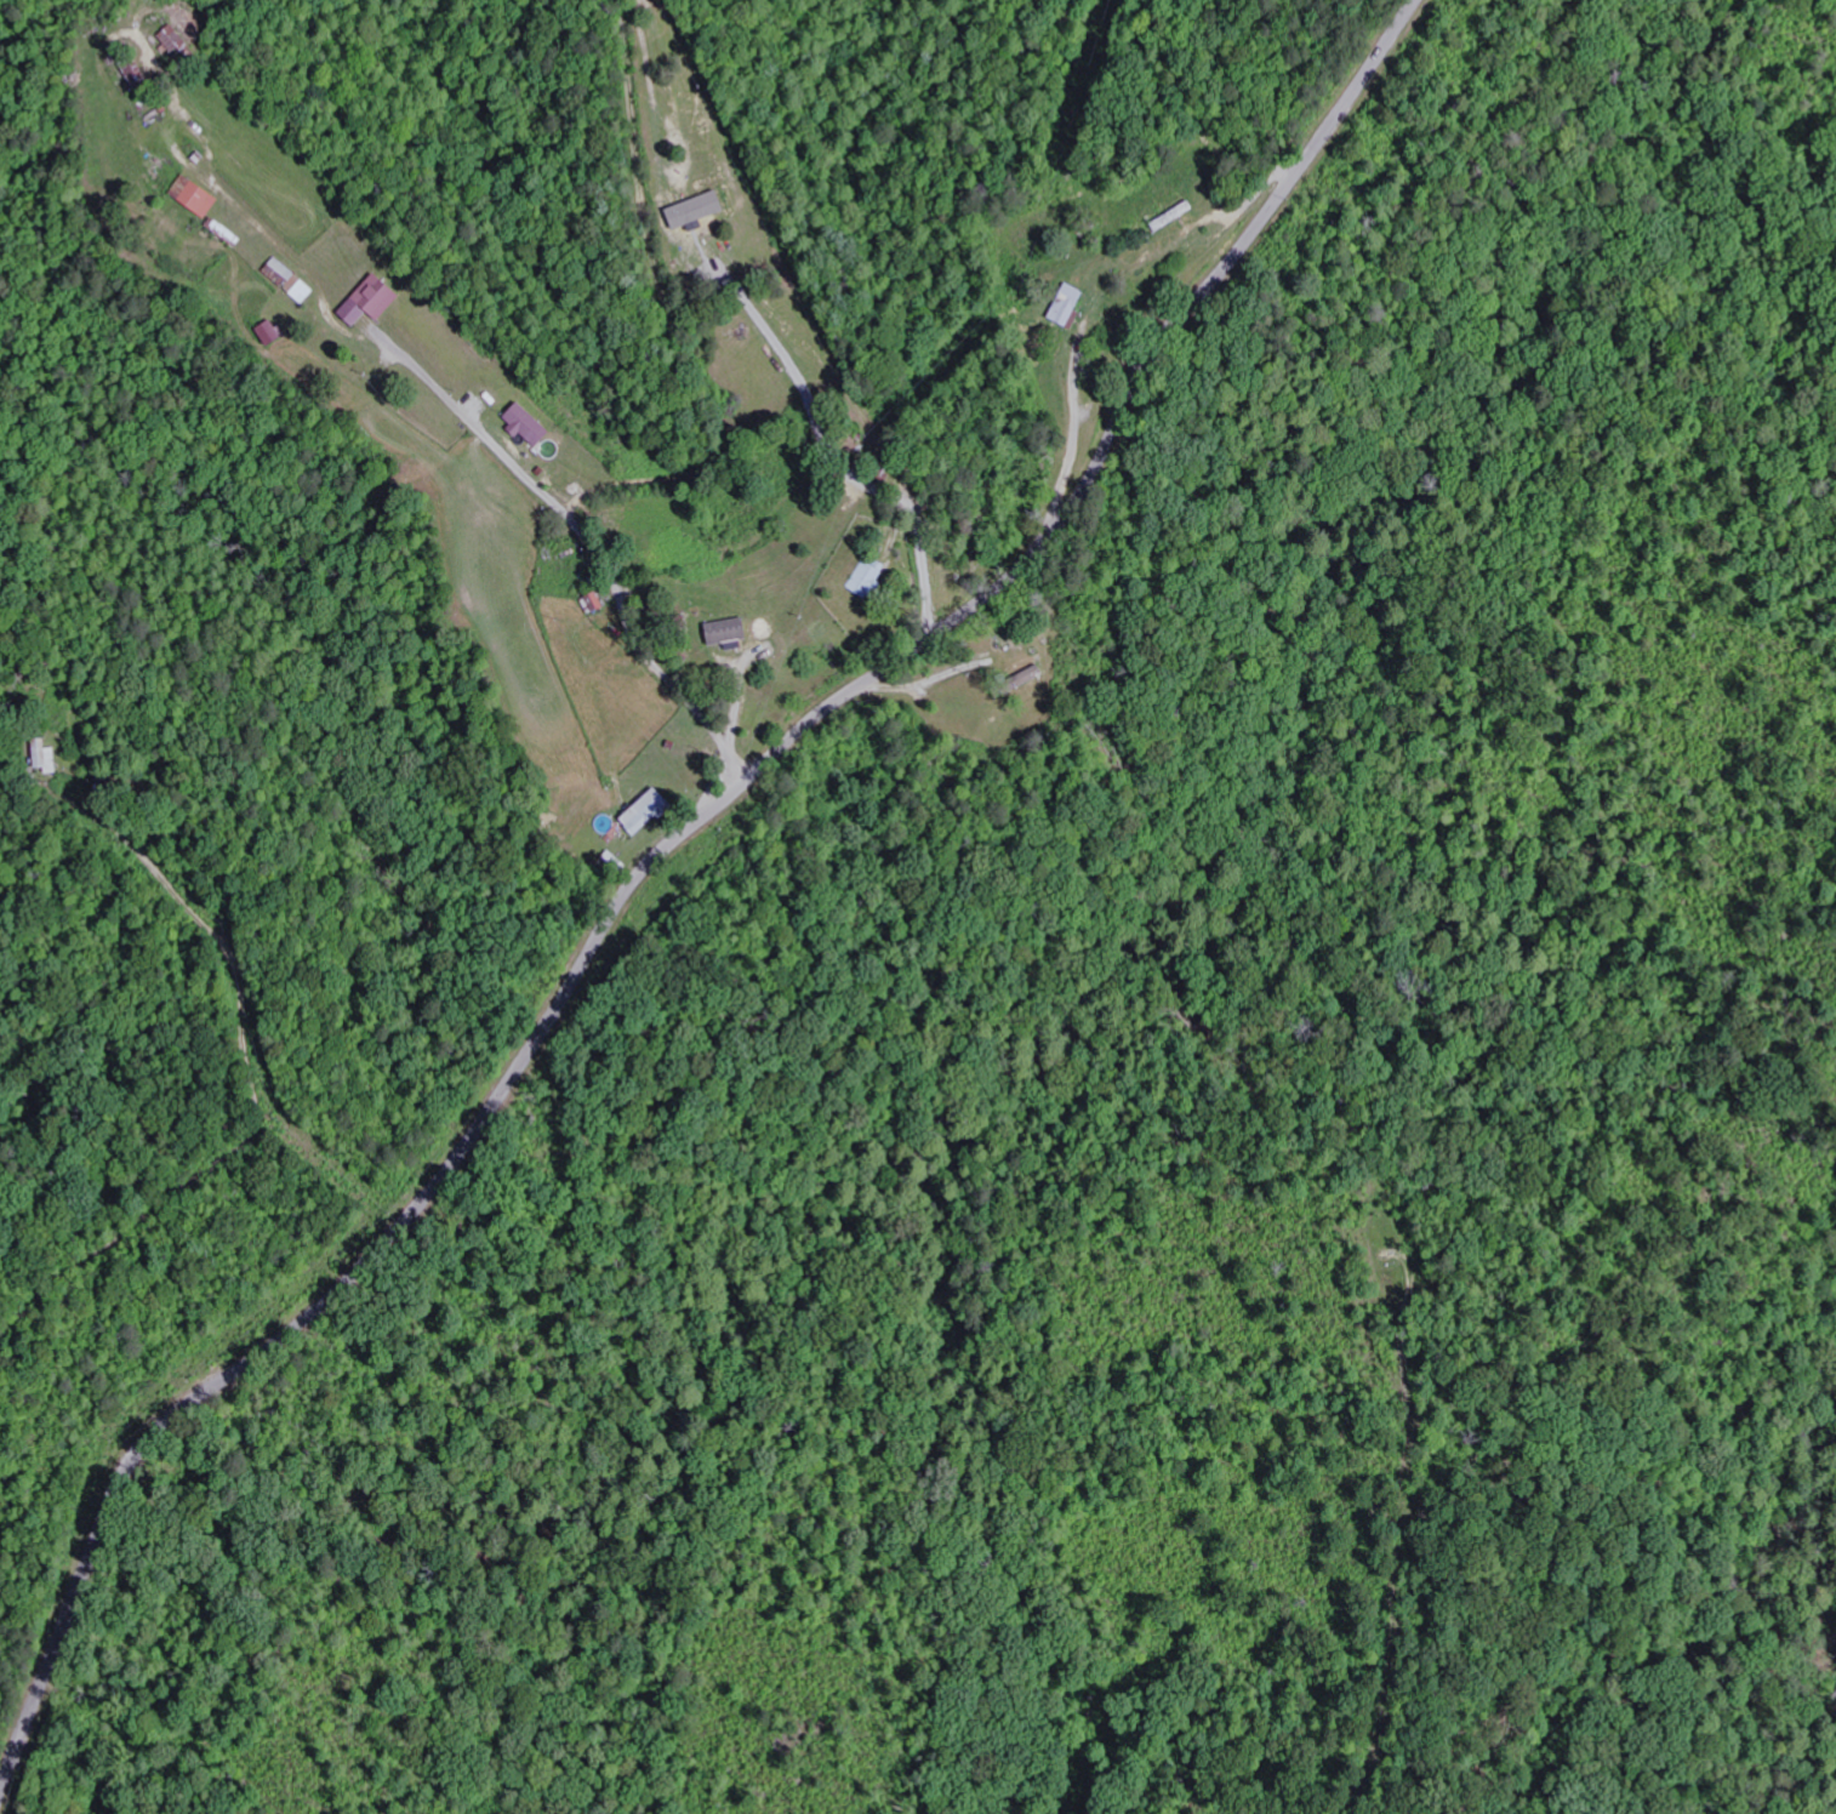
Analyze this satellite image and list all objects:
building: (176, 39)
building: (199, 195)
building: (701, 209)
building: (284, 272)
building: (376, 300)
building: (276, 332)
building: (531, 424)
road: (586, 537)
building: (600, 601)
building: (734, 633)
building: (49, 757)
building: (650, 811)
road: (652, 855)

